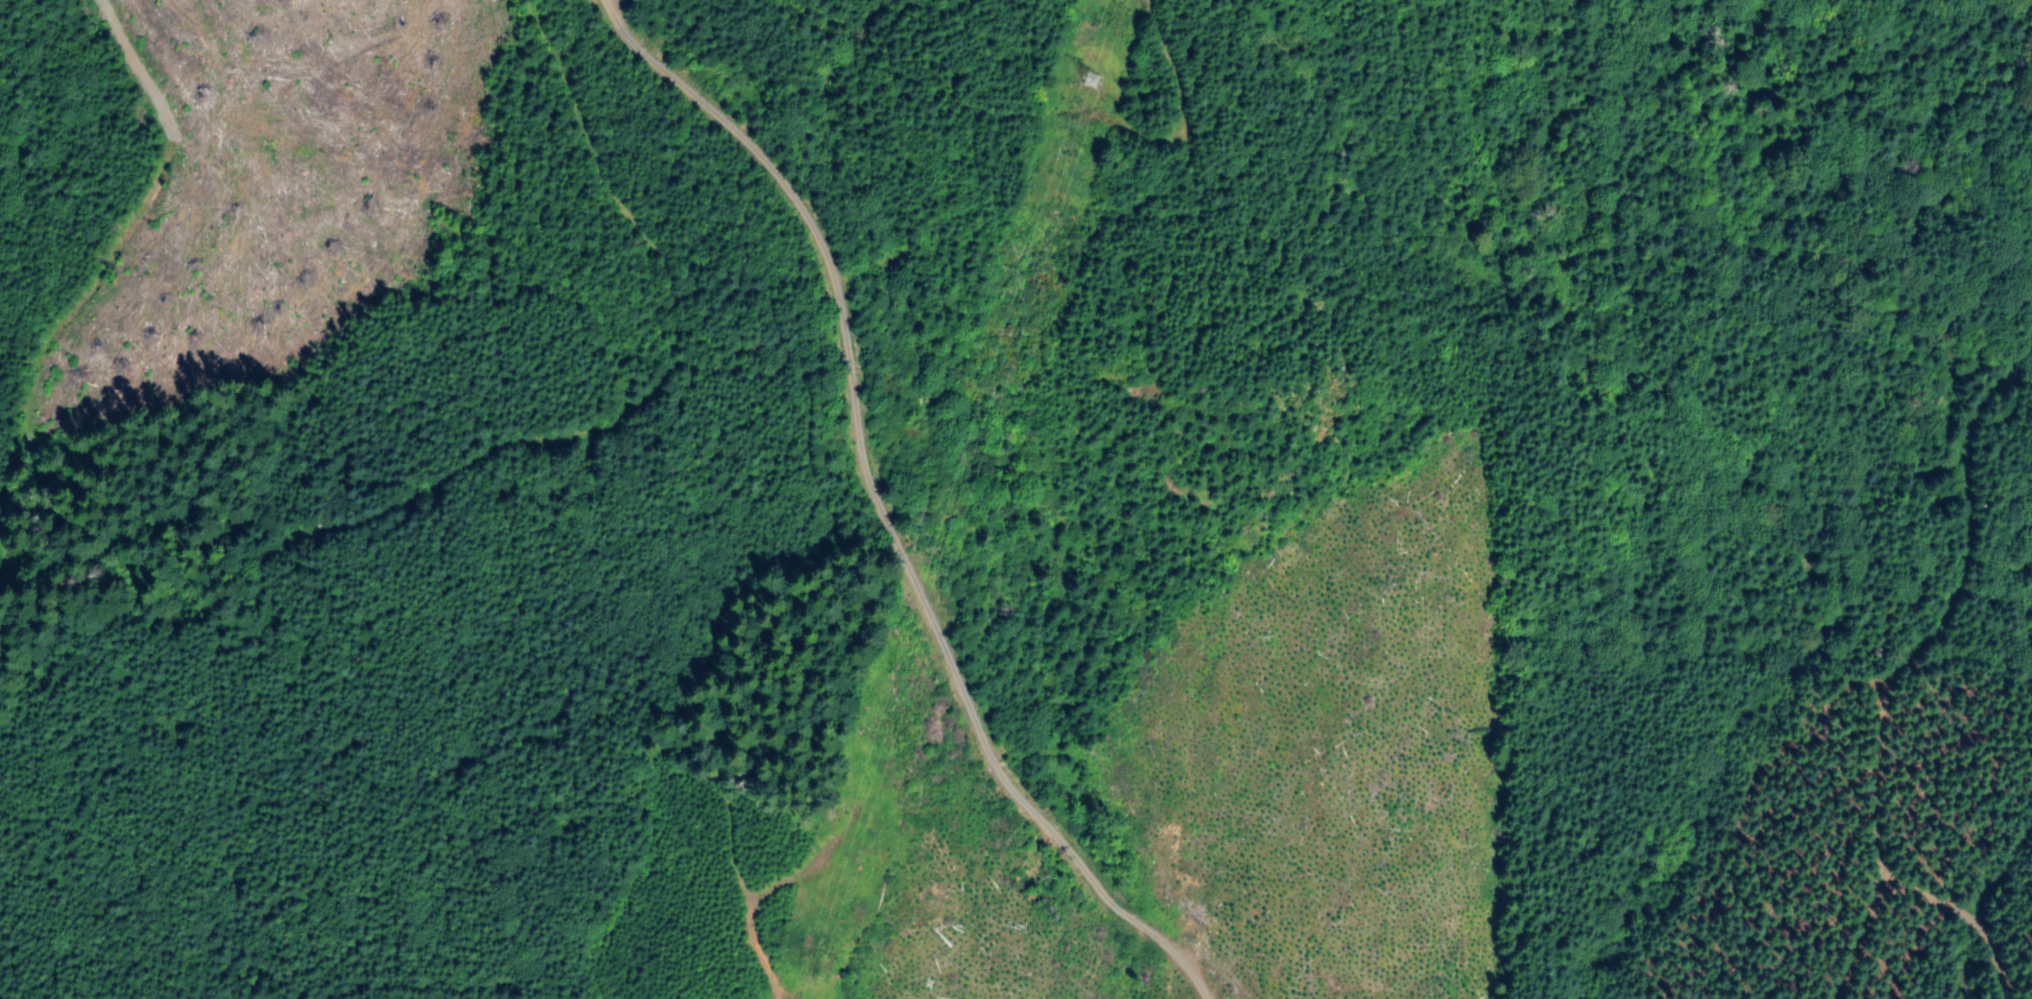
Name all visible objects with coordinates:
road: (1952, 906)

